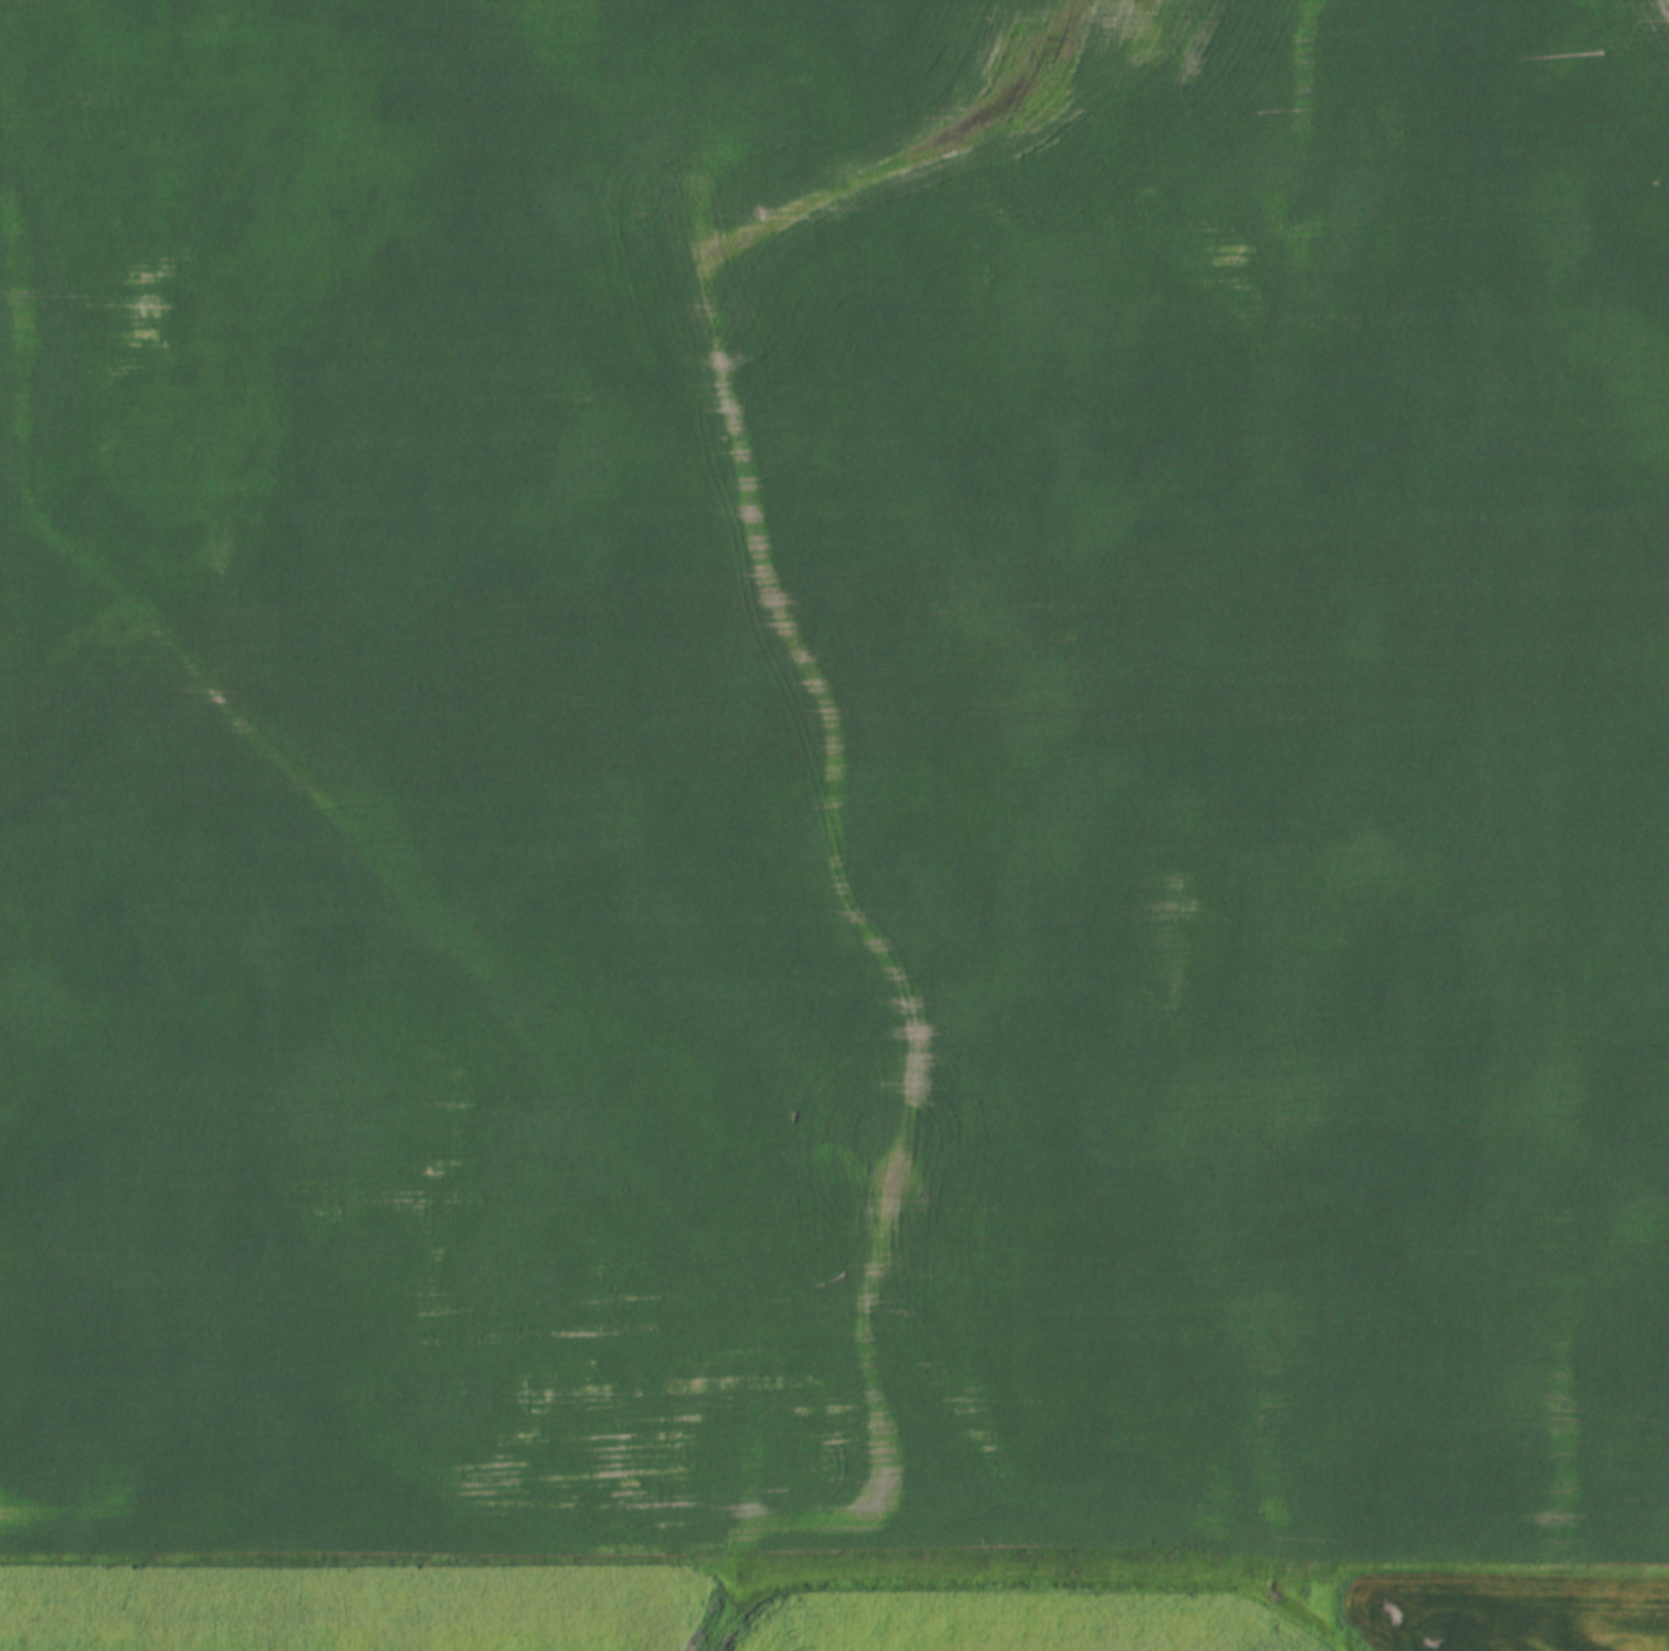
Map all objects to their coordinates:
road: (834, 1564)

